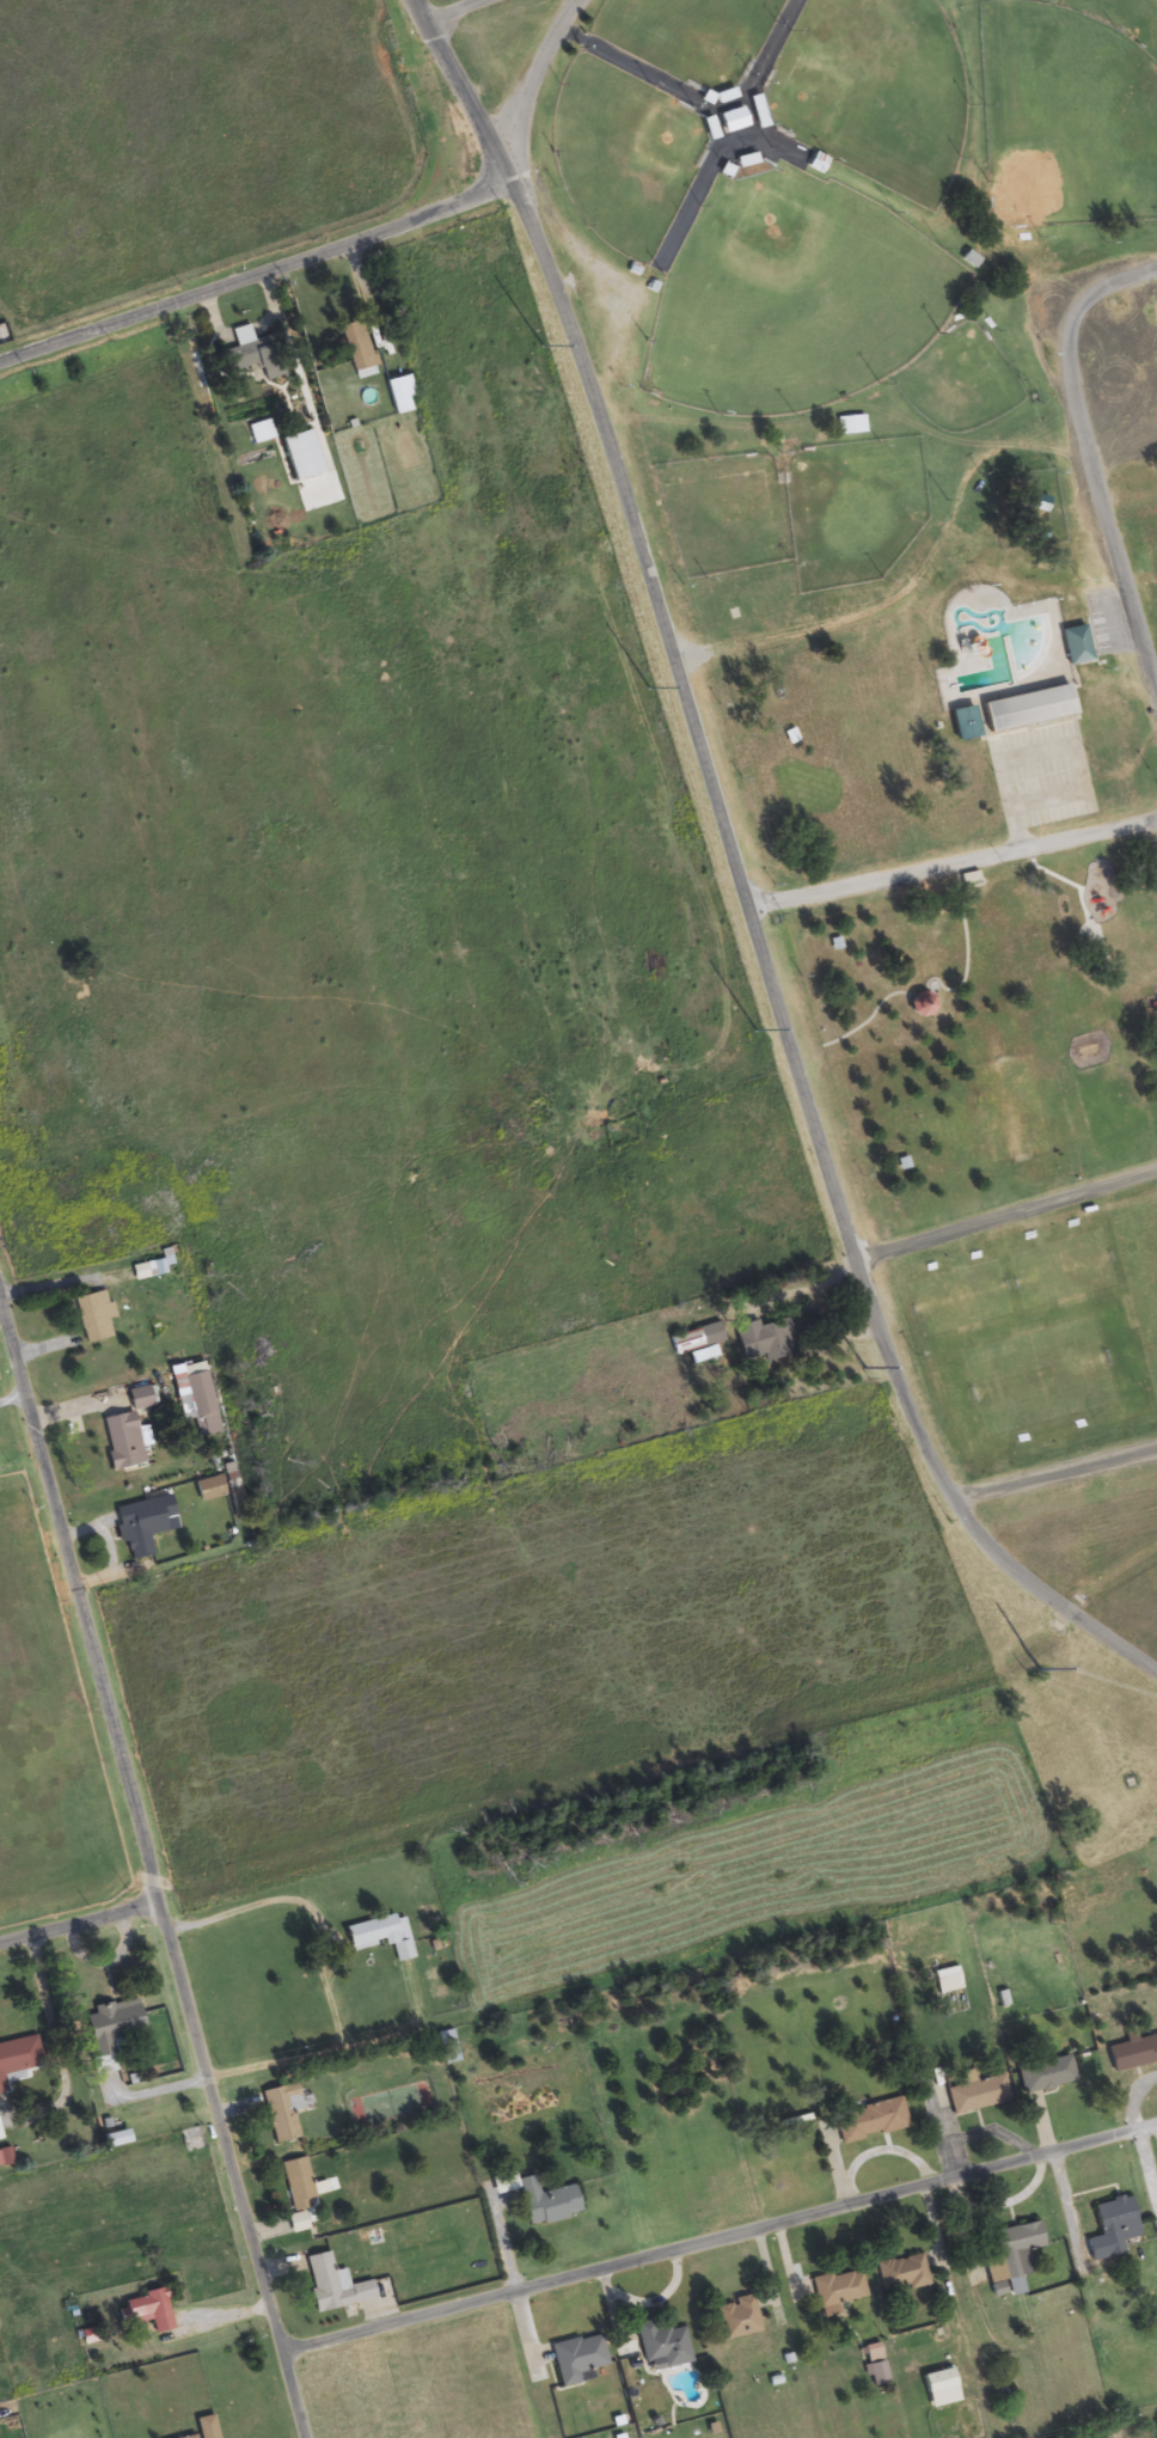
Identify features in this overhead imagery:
road: (455, 10)
building: (731, 121)
building: (815, 164)
road: (314, 251)
building: (968, 259)
power tower: (540, 343)
building: (251, 355)
building: (398, 393)
building: (850, 426)
road: (1075, 456)
building: (1035, 503)
park: (912, 638)
power tower: (647, 686)
building: (1026, 708)
road: (950, 870)
road: (733, 876)
building: (918, 1004)
power tower: (755, 1028)
road: (1004, 1216)
building: (153, 1266)
building: (92, 1318)
building: (709, 1336)
building: (764, 1340)
power tower: (861, 1364)
building: (137, 1398)
building: (198, 1400)
building: (120, 1441)
building: (141, 1524)
power tower: (1036, 1668)
road: (151, 1874)
road: (79, 1921)
building: (379, 1936)
building: (945, 1980)
building: (111, 2025)
building: (1132, 2053)
building: (18, 2058)
building: (1045, 2076)
building: (977, 2095)
building: (281, 2112)
building: (871, 2121)
building: (296, 2185)
building: (537, 2200)
building: (1109, 2229)
road: (720, 2236)
building: (1011, 2253)
building: (901, 2273)
building: (326, 2285)
building: (837, 2289)
building: (146, 2311)
building: (735, 2320)
building: (661, 2347)
building: (575, 2360)
building: (874, 2366)
building: (937, 2389)

